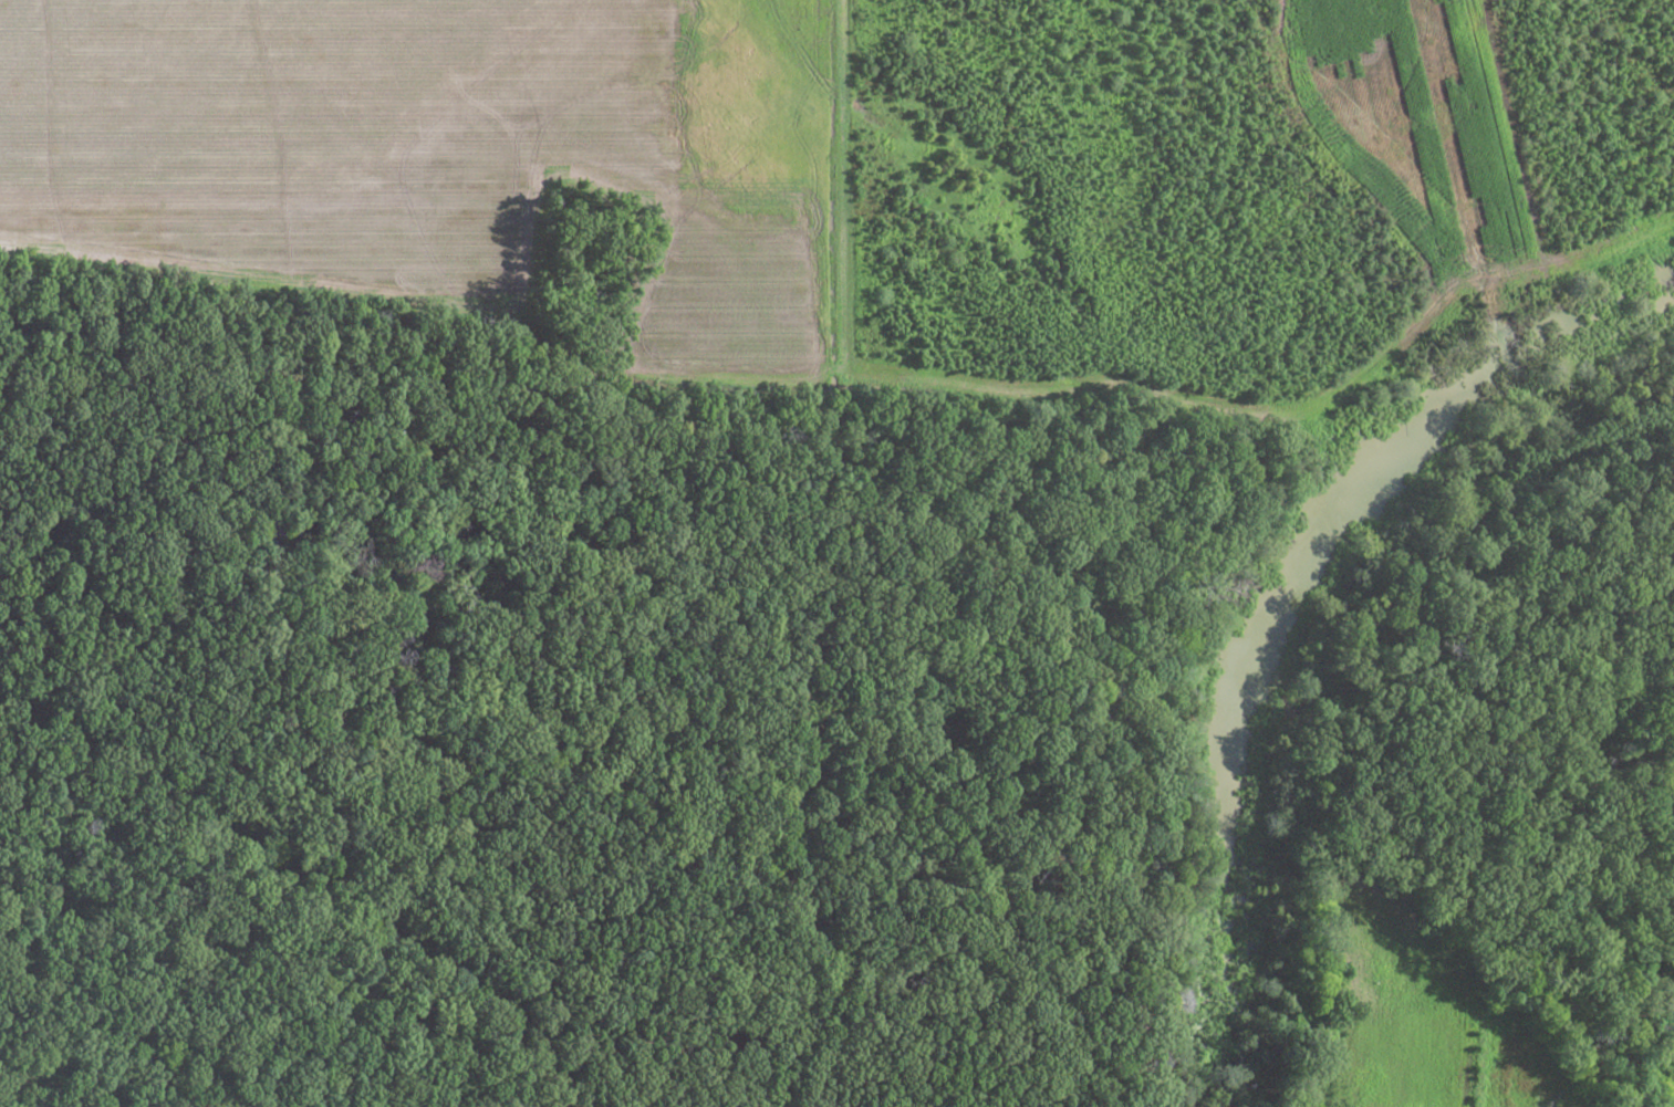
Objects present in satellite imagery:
road: (308, 869)

